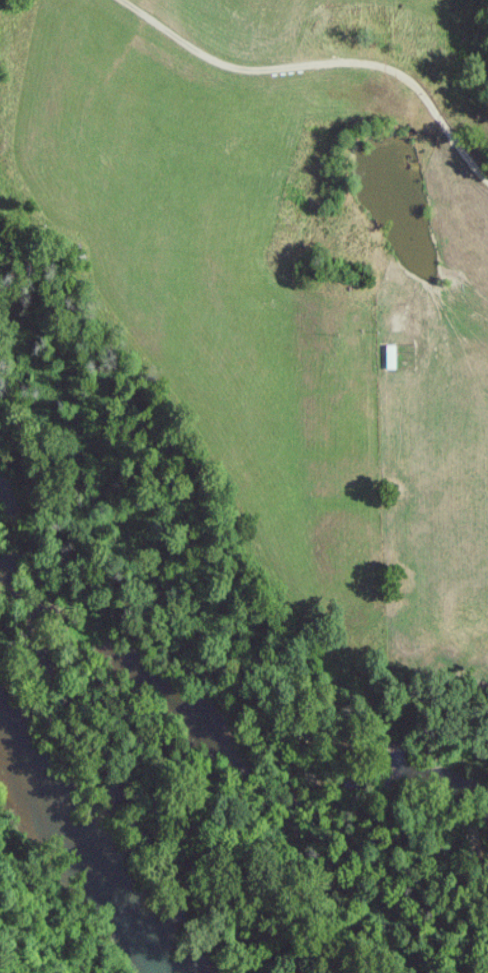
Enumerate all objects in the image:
road: (318, 61)
building: (394, 356)
river: (100, 841)

